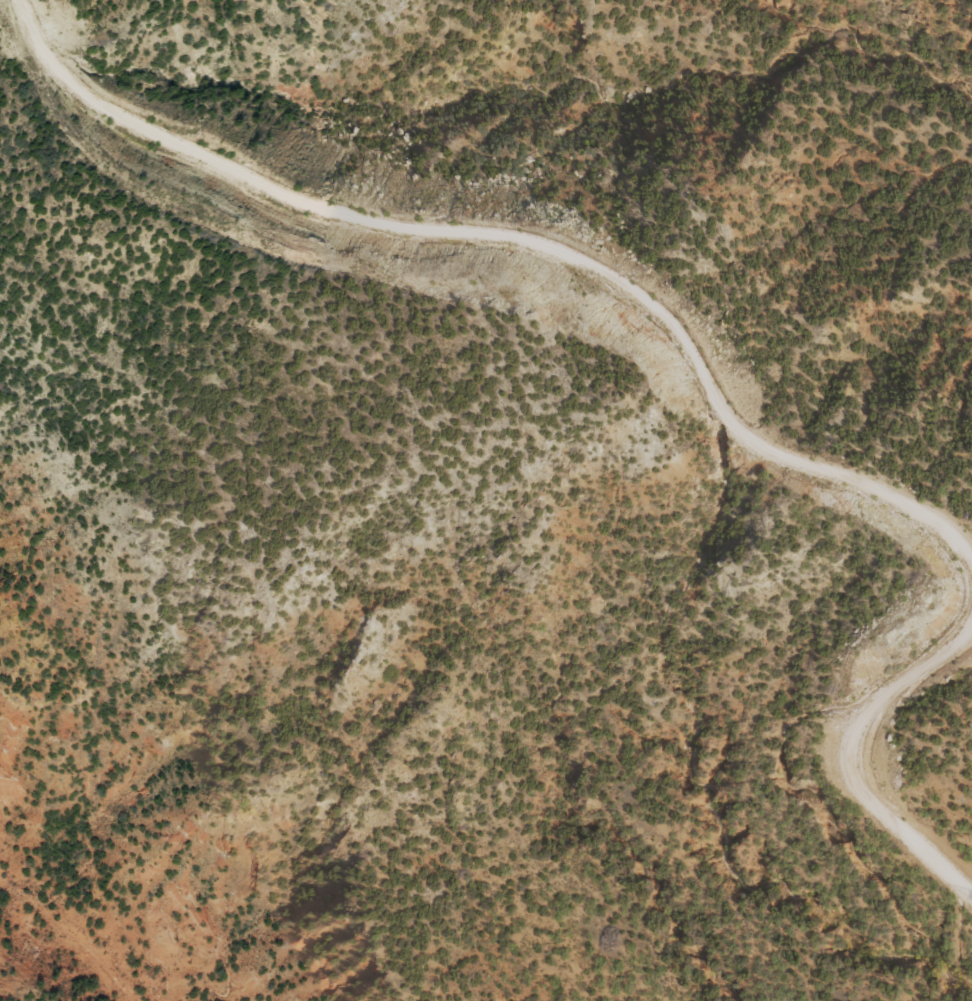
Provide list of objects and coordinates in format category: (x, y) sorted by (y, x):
road: (100, 6)
road: (104, 12)
road: (518, 234)
road: (843, 757)

